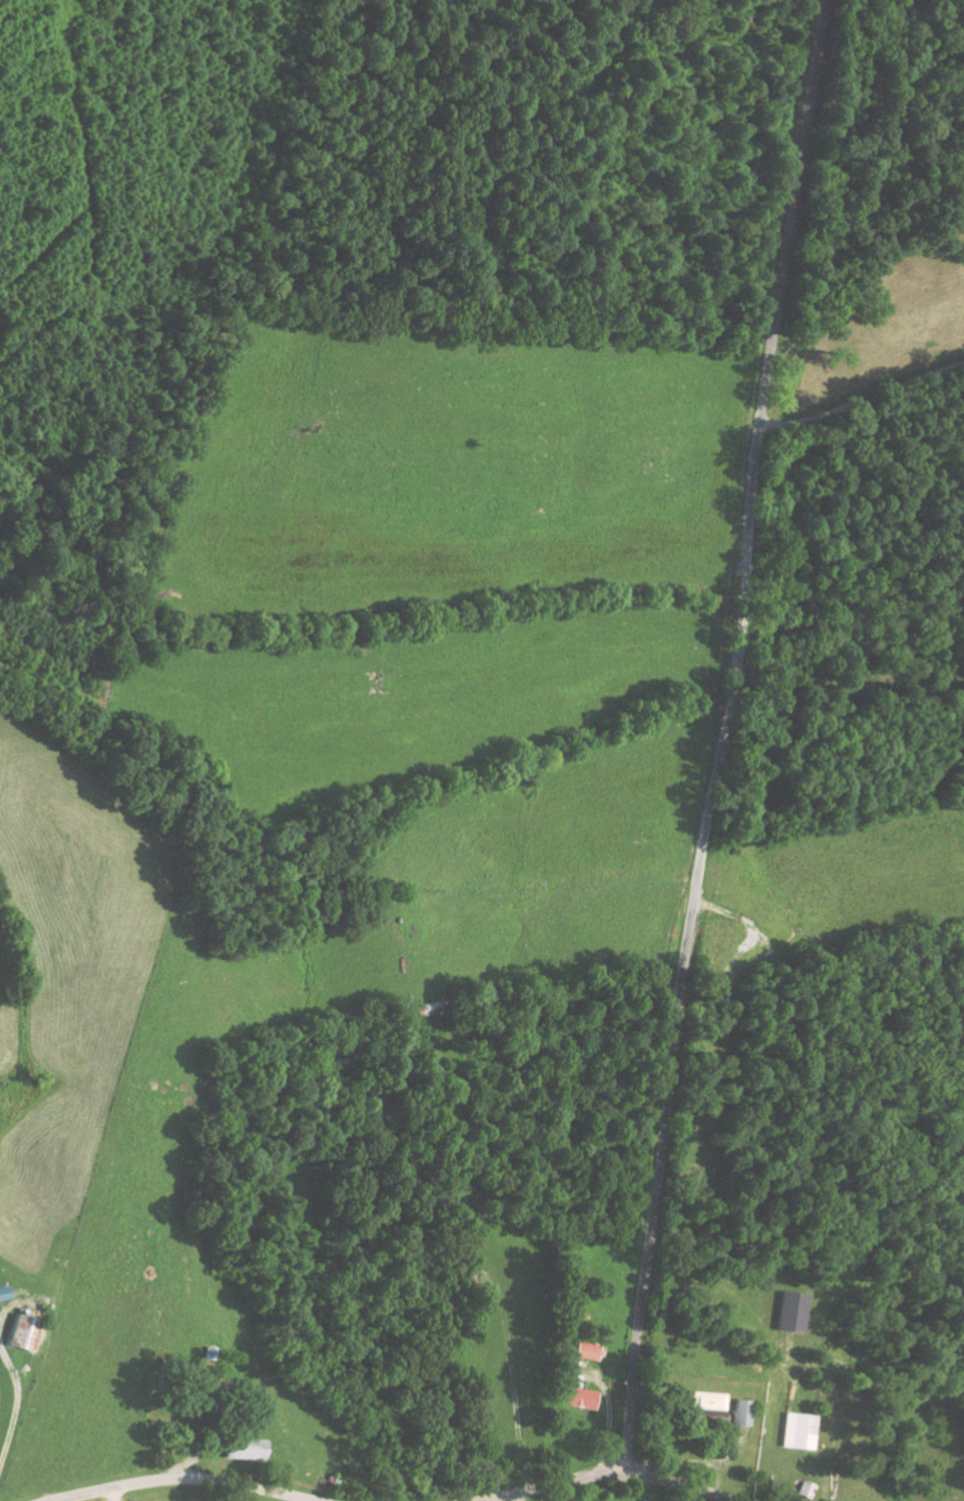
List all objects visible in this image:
road: (719, 737)
building: (4, 1292)
building: (26, 1332)
building: (588, 1350)
building: (583, 1398)
building: (710, 1405)
building: (743, 1412)
building: (799, 1431)
building: (247, 1449)
road: (610, 1477)
road: (186, 1481)

